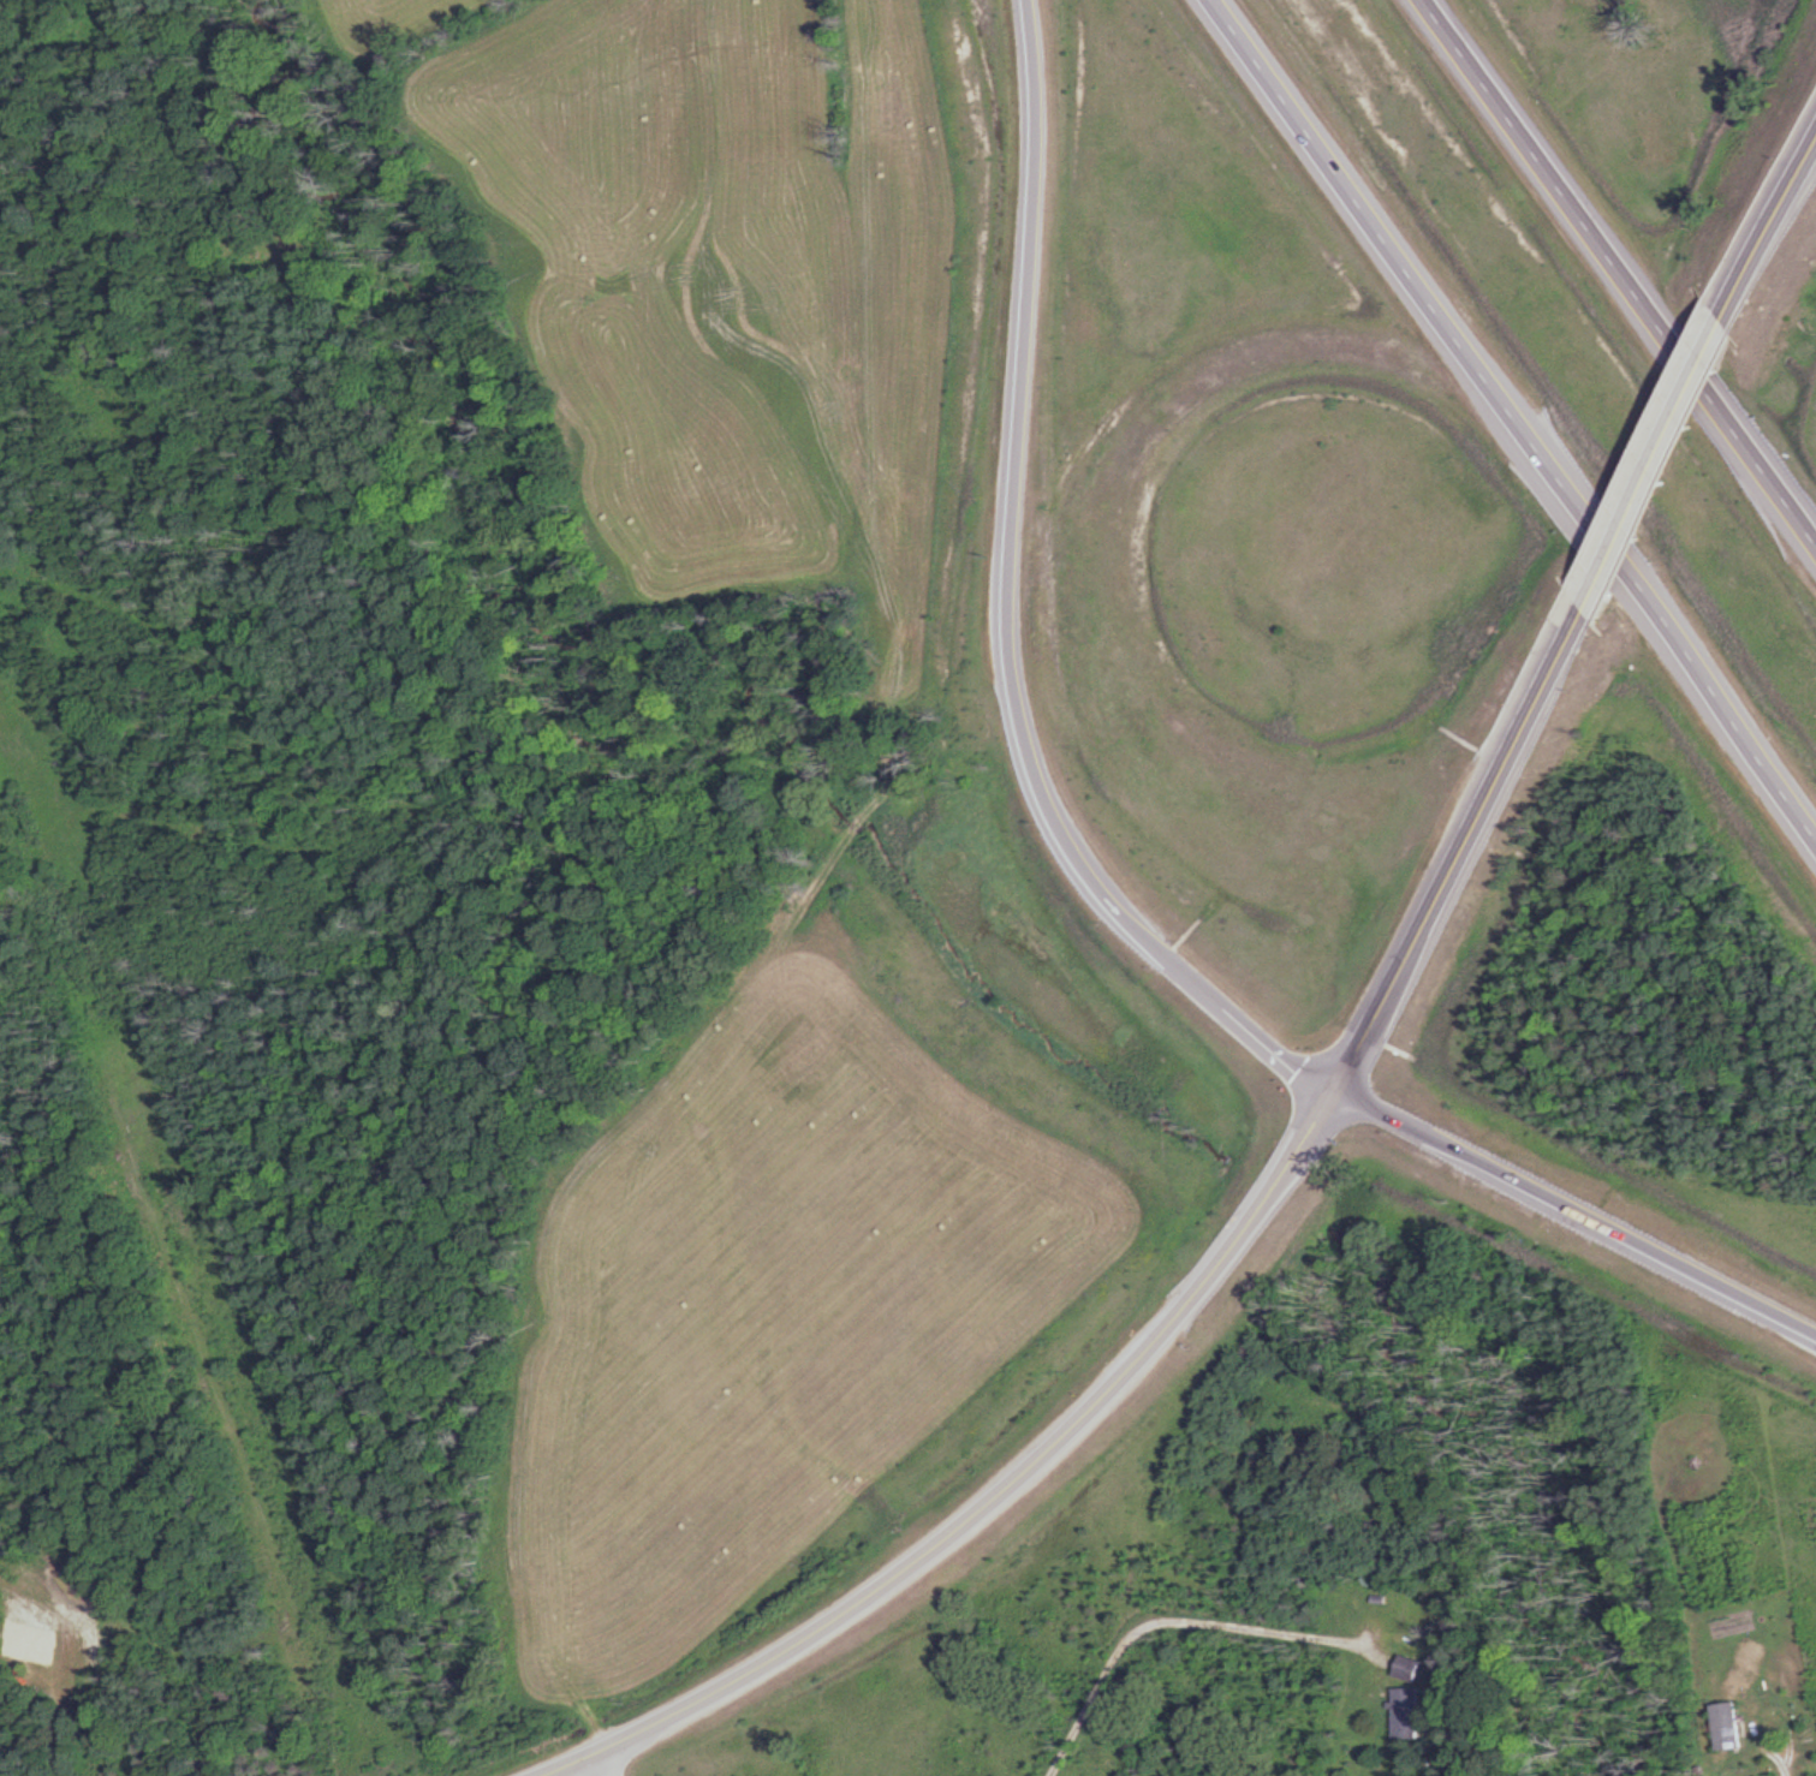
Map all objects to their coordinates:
road: (1768, 209)
road: (1620, 272)
road: (1519, 415)
road: (1657, 452)
road: (1102, 541)
road: (1007, 610)
road: (1467, 846)
road: (1579, 1209)
road: (1016, 1483)
road: (1174, 1616)
building: (1412, 1668)
building: (1409, 1712)
road: (565, 1766)
road: (599, 1766)
building: (1755, 1770)

